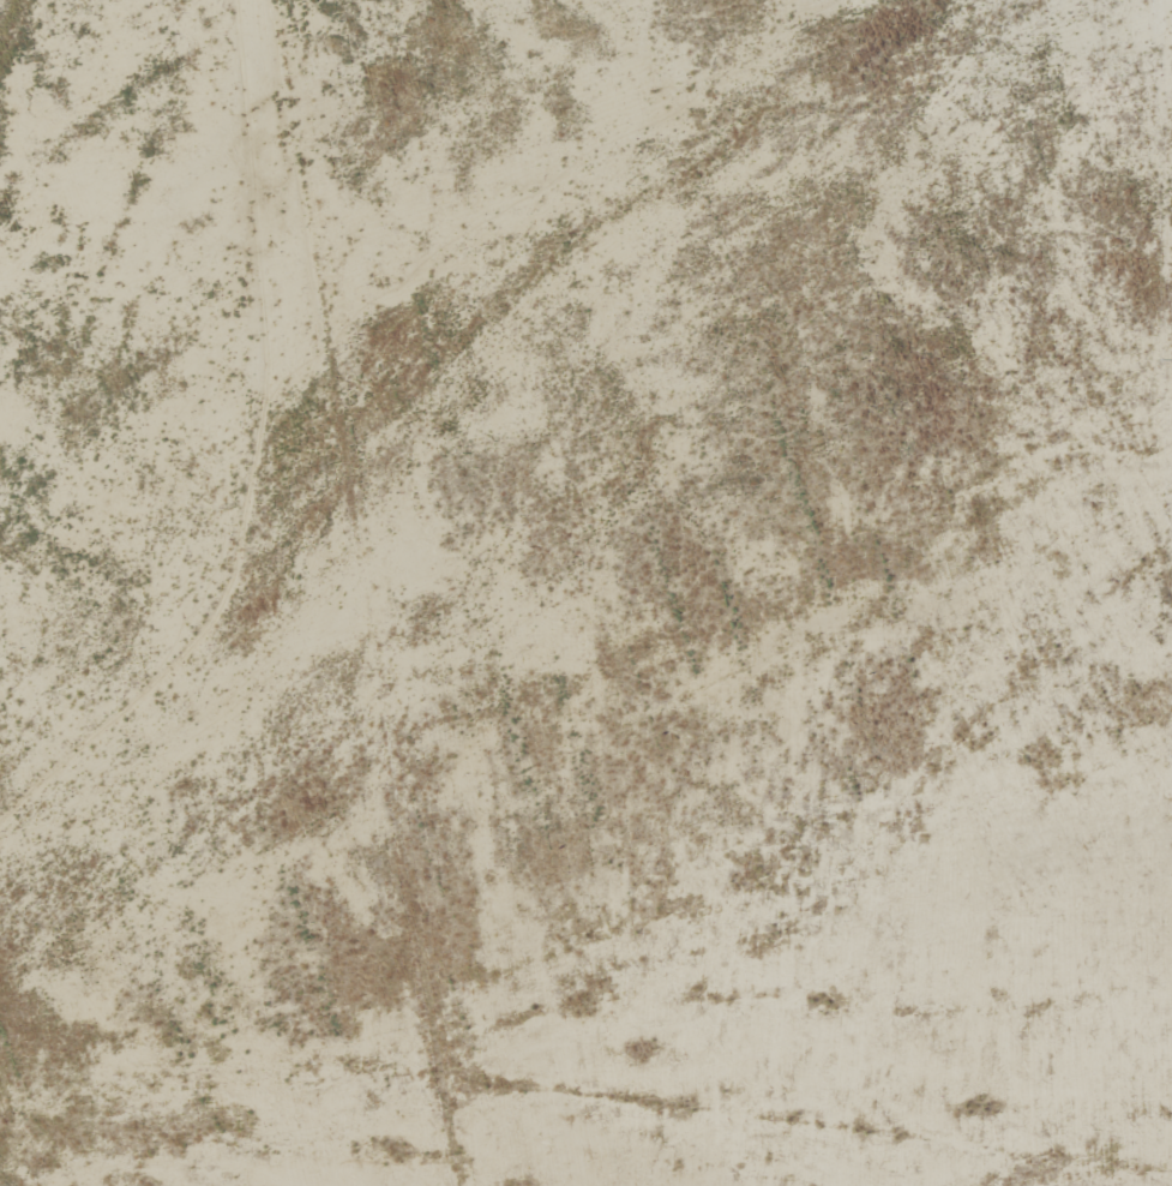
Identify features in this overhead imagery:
road: (880, 817)

